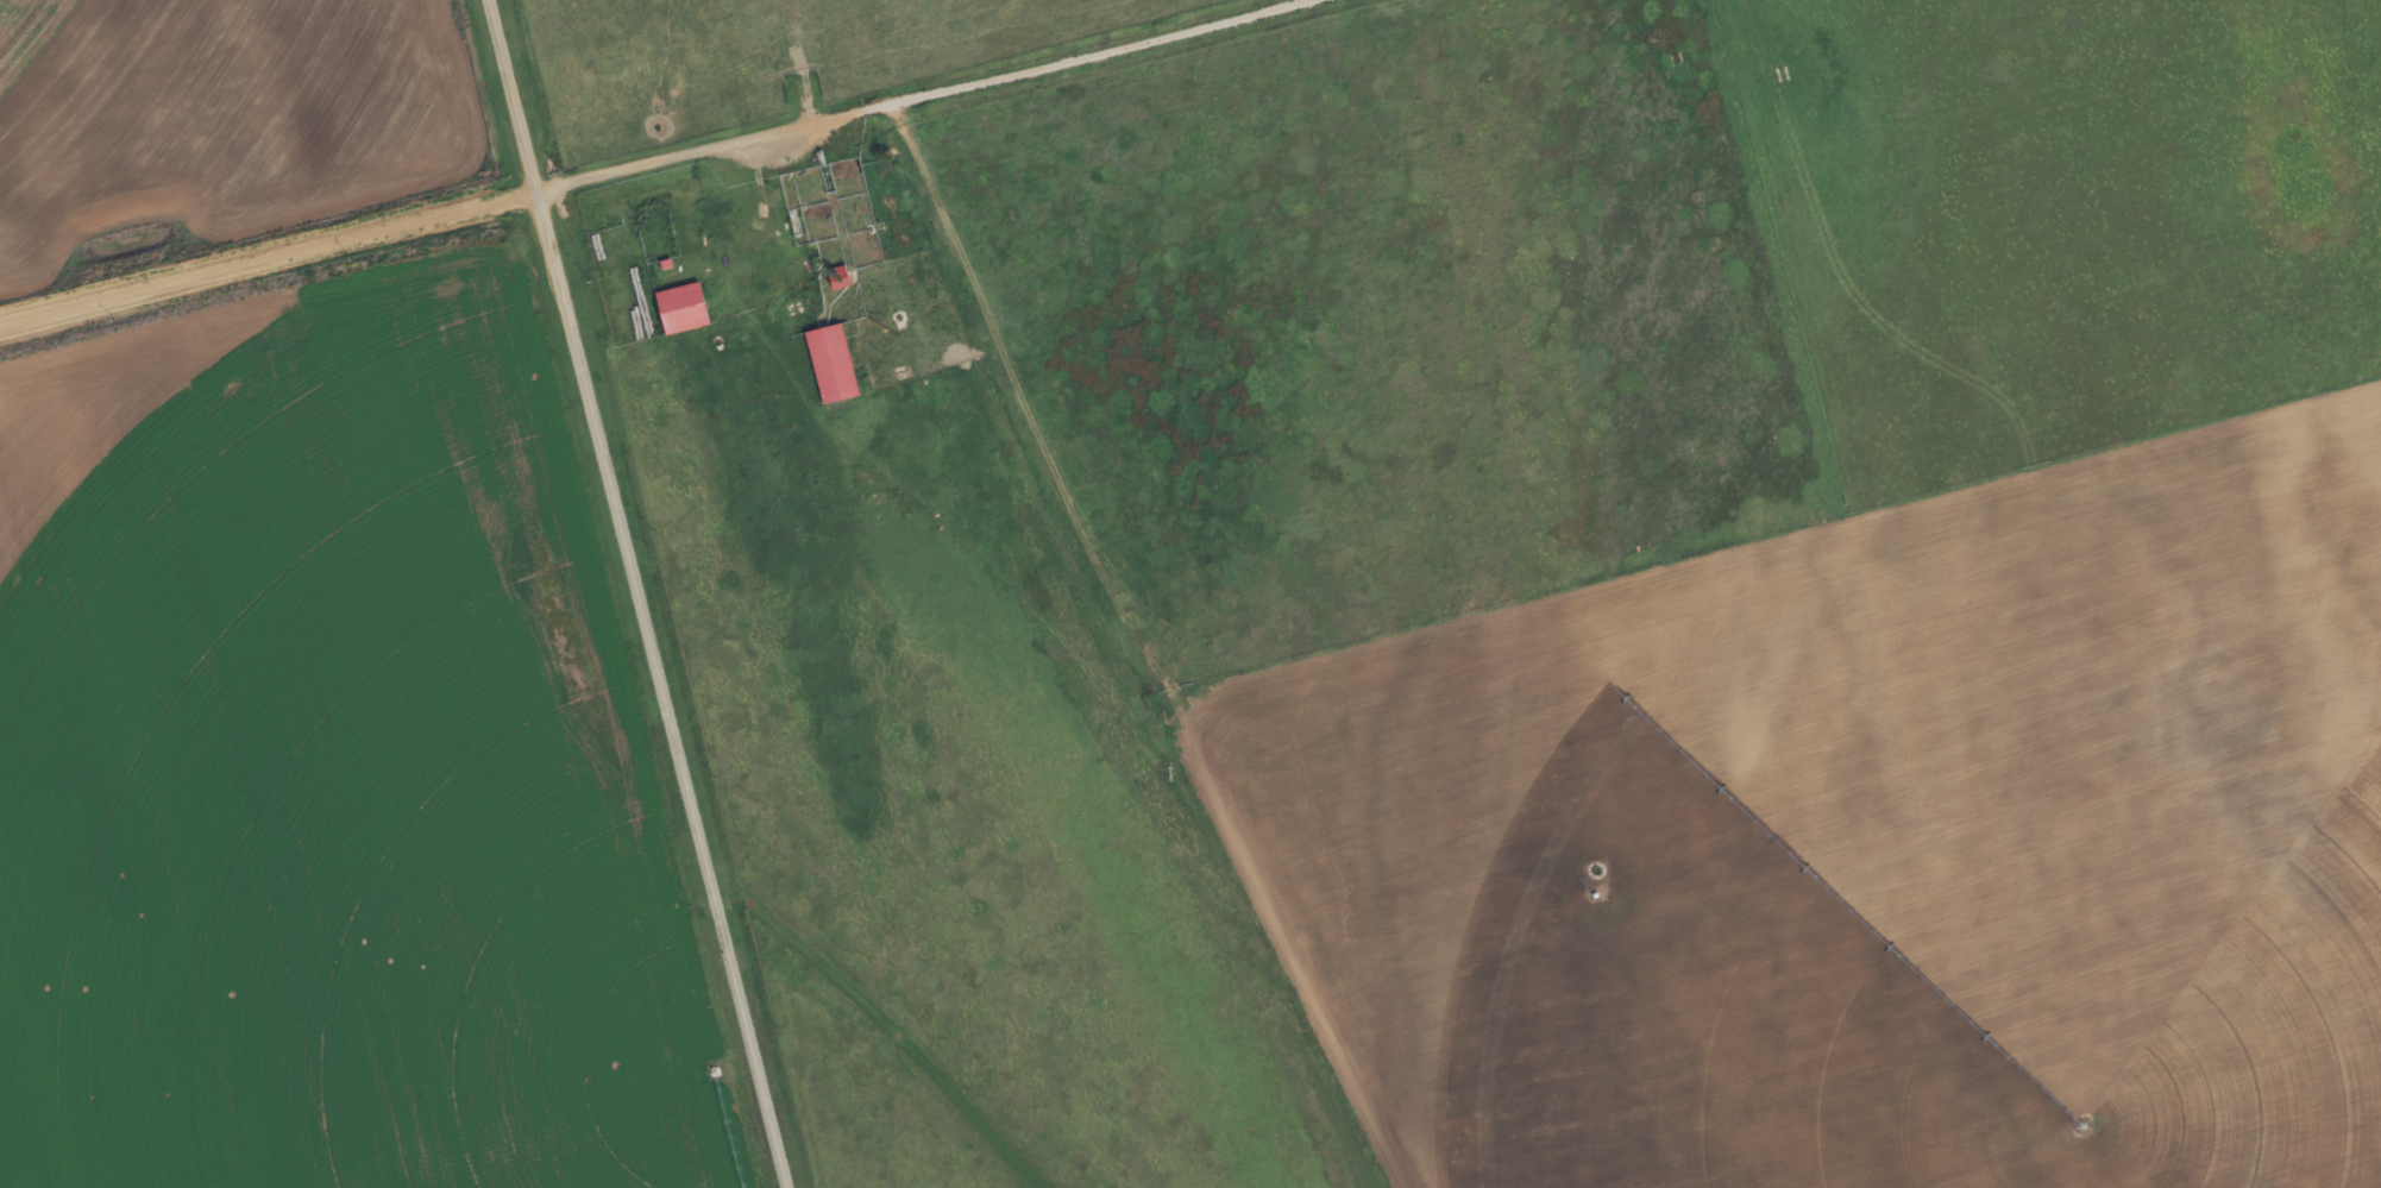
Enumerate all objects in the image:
road: (652, 161)
building: (648, 206)
road: (947, 238)
building: (661, 263)
building: (834, 281)
building: (677, 308)
building: (827, 363)
road: (630, 593)

